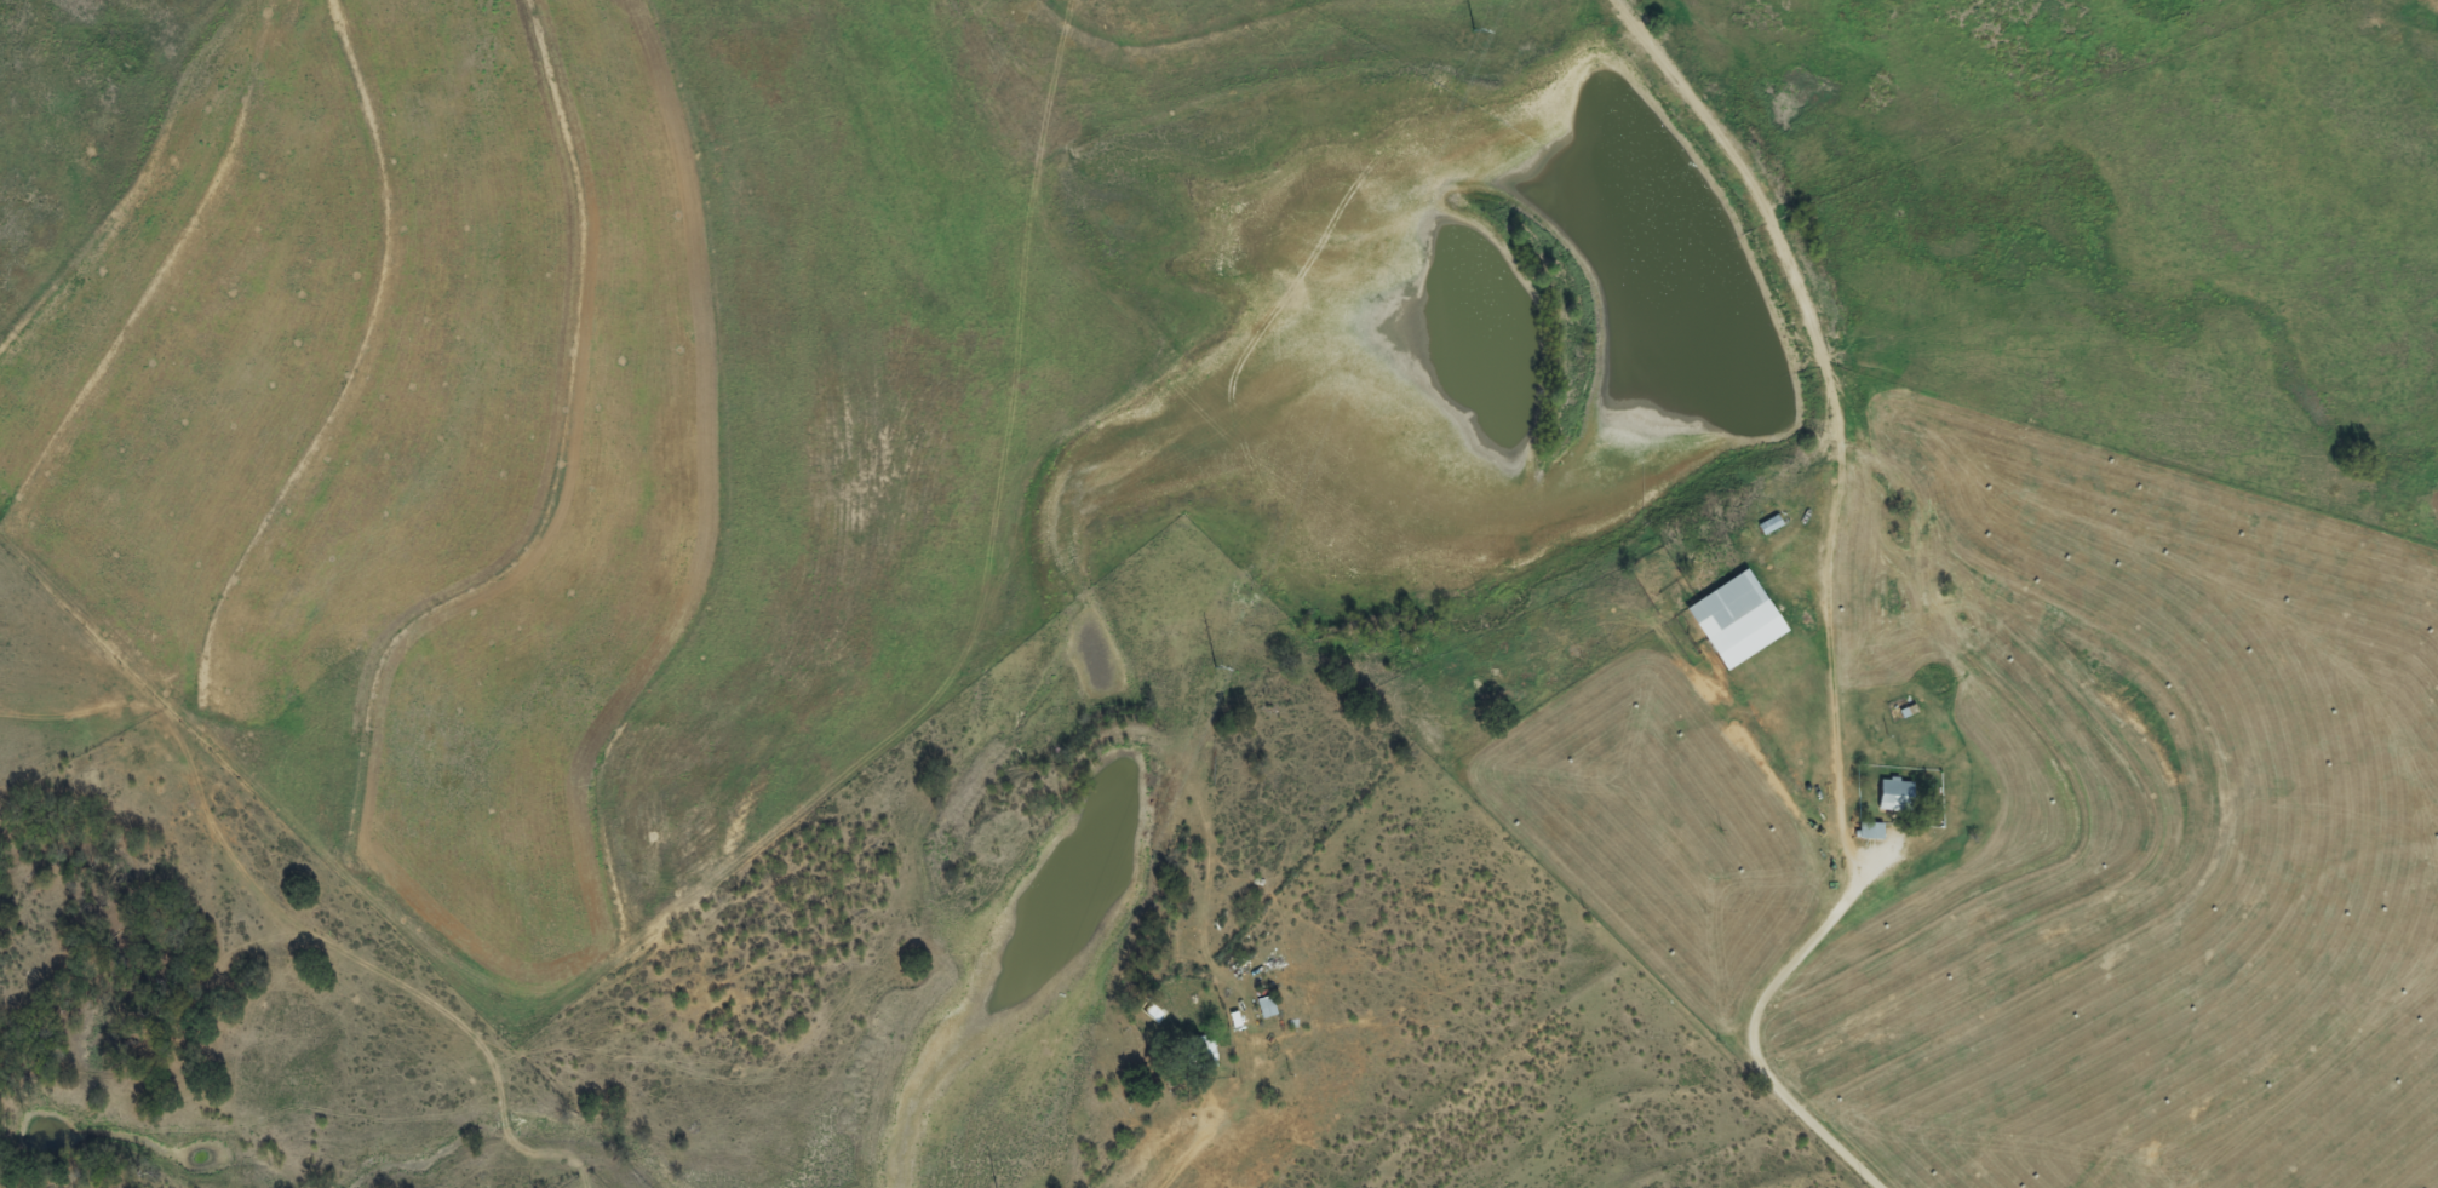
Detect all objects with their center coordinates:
building: (1728, 621)
building: (1888, 797)
building: (1864, 832)
road: (1777, 968)
building: (1262, 1008)
building: (1199, 1055)
road: (1172, 1183)

